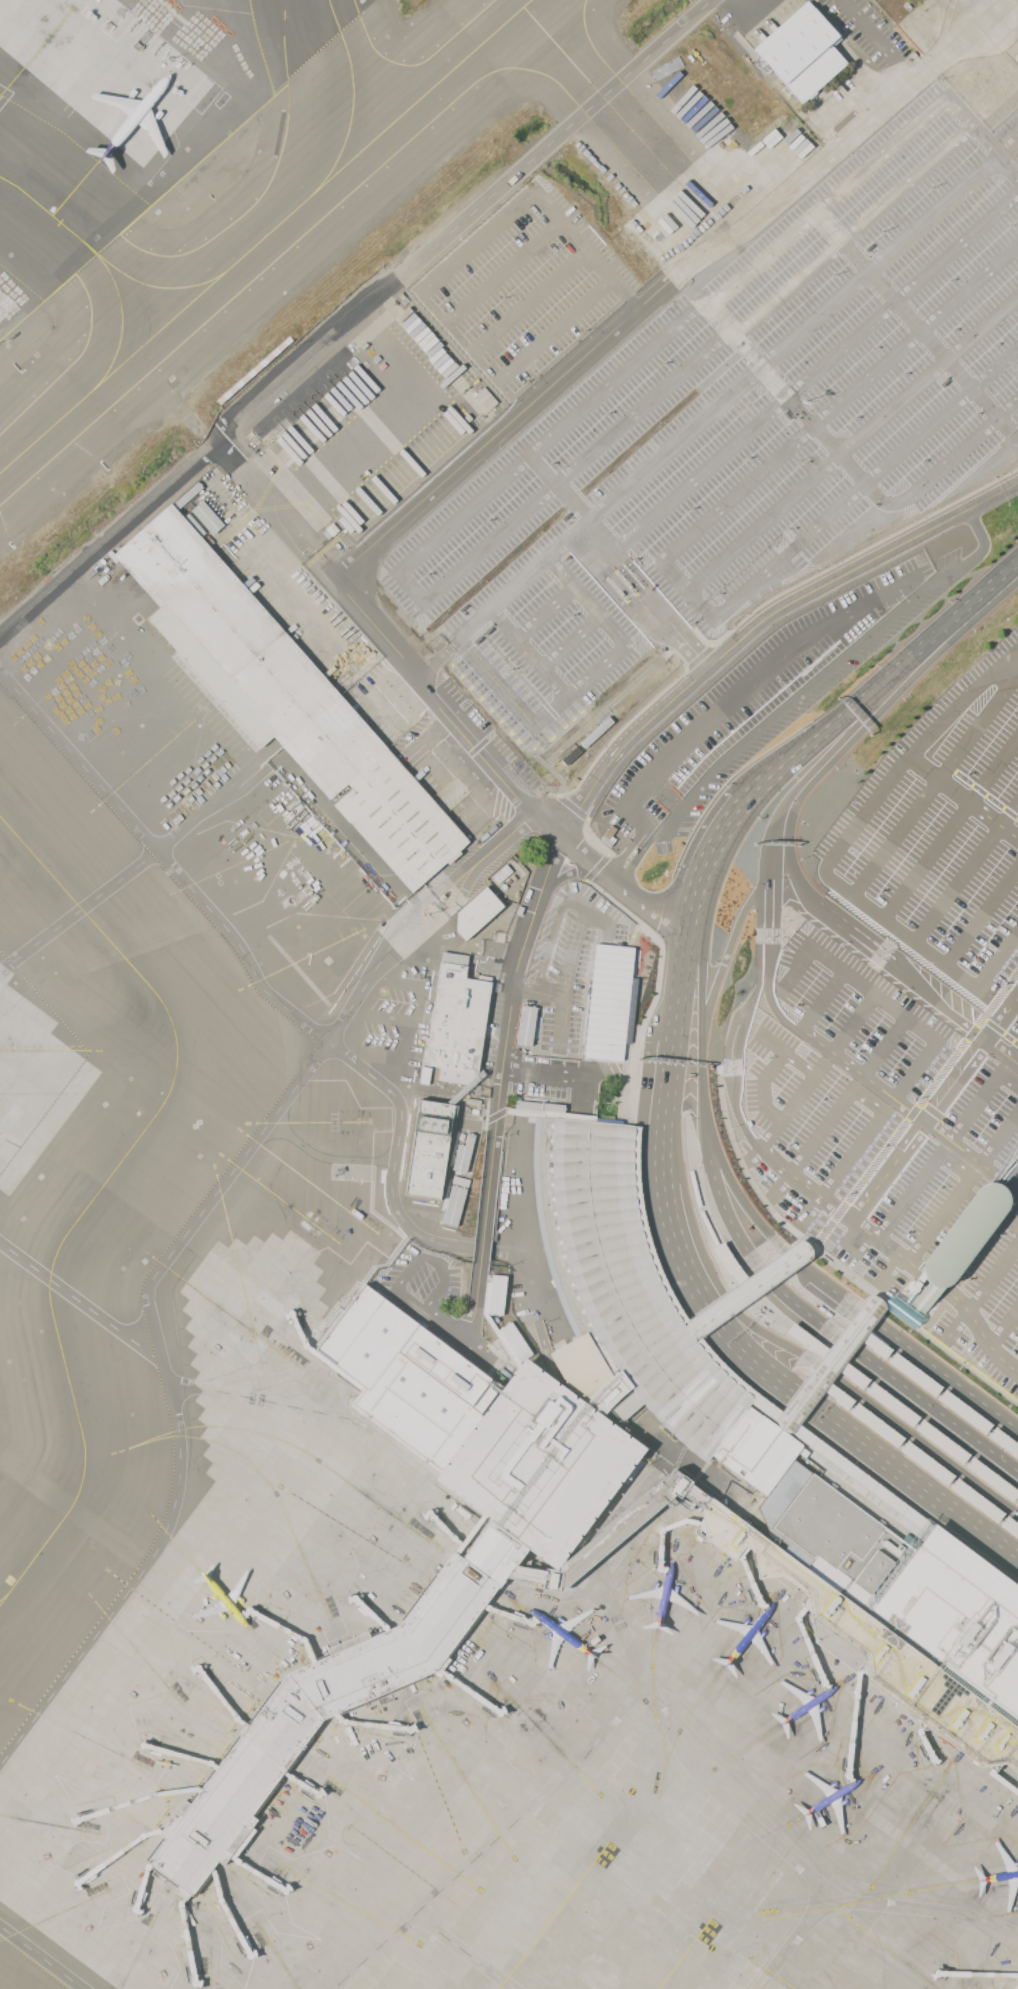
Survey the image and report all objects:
road: (877, 40)
building: (802, 53)
road: (5, 93)
airport taxiway: (601, 93)
airport taxiway: (353, 99)
airport apron: (100, 130)
road: (982, 134)
street lamp: (933, 187)
road: (517, 201)
airport taxiway: (45, 209)
street lamp: (1011, 225)
street lamp: (884, 231)
airport taxiway: (265, 236)
road: (502, 274)
street lamp: (835, 275)
road: (741, 278)
street lamp: (948, 280)
airport taxiway: (152, 285)
road: (527, 299)
road: (767, 308)
street lamp: (665, 310)
road: (347, 311)
airport taxiway: (121, 315)
road: (568, 316)
road: (916, 325)
street lamp: (1016, 330)
road: (610, 332)
street lamp: (993, 345)
street lamp: (872, 348)
street lamp: (663, 363)
street lamp: (902, 375)
road: (805, 381)
road: (737, 386)
building: (485, 398)
road: (794, 402)
road: (839, 402)
street lamp: (749, 404)
street lamp: (606, 414)
street lamp: (973, 414)
street lamp: (793, 419)
street lamp: (665, 422)
parking lot: (740, 423)
road: (907, 446)
road: (838, 456)
road: (952, 458)
street lamp: (747, 460)
street lamp: (802, 462)
street lamp: (919, 462)
street lamp: (549, 464)
street lamp: (608, 472)
road: (559, 487)
street lamp: (871, 505)
street lamp: (691, 509)
road: (278, 510)
building: (206, 517)
street lamp: (486, 520)
road: (974, 521)
street lamp: (788, 528)
street lamp: (542, 531)
street lamp: (771, 542)
street lamp: (426, 574)
toll booth: (632, 579)
street lamp: (486, 581)
road: (412, 586)
toll booth: (623, 587)
road: (814, 589)
road: (626, 590)
road: (652, 590)
street lamp: (714, 593)
toll booth: (615, 595)
road: (646, 595)
road: (618, 599)
road: (733, 601)
road: (969, 604)
road: (546, 612)
street lamp: (570, 616)
road: (974, 620)
road: (571, 641)
road: (530, 651)
road: (436, 654)
street lamp: (508, 669)
road: (580, 685)
building: (283, 695)
road: (797, 698)
parking lot: (764, 700)
road: (730, 701)
street lamp: (594, 702)
road: (961, 703)
road: (856, 704)
road: (831, 751)
road: (483, 760)
road: (544, 763)
road: (825, 768)
road: (593, 780)
road: (767, 780)
road: (936, 783)
airport apron: (210, 788)
road: (983, 792)
road: (963, 797)
road: (572, 807)
road: (866, 814)
road: (950, 826)
road: (504, 837)
road: (592, 839)
parking lot: (945, 846)
toll booth: (638, 854)
road: (163, 859)
road: (142, 860)
road: (704, 865)
road: (597, 867)
road: (567, 872)
road: (967, 873)
road: (765, 879)
road: (623, 887)
road: (772, 907)
building: (476, 913)
road: (982, 915)
road: (407, 917)
road: (603, 919)
road: (901, 929)
road: (425, 932)
road: (854, 932)
road: (632, 933)
road: (551, 935)
road: (908, 951)
road: (998, 961)
road: (724, 962)
road: (798, 969)
road: (567, 977)
road: (701, 986)
road: (657, 987)
road: (679, 987)
airport: (509, 994)
road: (874, 994)
road: (769, 995)
road: (823, 1000)
building: (607, 1001)
road: (939, 1003)
road: (343, 1015)
building: (457, 1016)
road: (560, 1017)
road: (1001, 1018)
road: (735, 1021)
road: (854, 1024)
building: (525, 1025)
road: (505, 1029)
road: (1001, 1030)
road: (885, 1046)
parking lot: (897, 1051)
road: (1001, 1051)
road: (786, 1052)
road: (1015, 1054)
road: (847, 1063)
road: (915, 1069)
road: (559, 1074)
building: (425, 1076)
building: (458, 1077)
road: (954, 1079)
airport apron: (33, 1083)
road: (764, 1086)
road: (981, 1098)
road: (868, 1101)
road: (908, 1109)
road: (913, 1111)
road: (944, 1111)
road: (787, 1113)
road: (703, 1130)
road: (999, 1138)
road: (811, 1144)
building: (429, 1149)
building: (464, 1155)
road: (971, 1155)
road: (723, 1166)
road: (888, 1169)
road: (841, 1170)
road: (963, 1171)
railway: (1008, 1172)
road: (392, 1176)
road: (519, 1176)
railway: (1008, 1176)
road: (1014, 1181)
airport taxiway: (132, 1190)
road: (967, 1193)
parking lot: (881, 1194)
building: (455, 1201)
road: (986, 1206)
road: (701, 1209)
road: (840, 1209)
road: (1009, 1222)
railway: (973, 1224)
building: (962, 1236)
railway: (968, 1239)
road: (481, 1247)
road: (435, 1260)
road: (831, 1260)
railway: (942, 1266)
road: (732, 1268)
road: (923, 1275)
road: (932, 1277)
road: (364, 1278)
road: (657, 1284)
building: (749, 1285)
road: (538, 1287)
traffic signals: (722, 1291)
road: (746, 1291)
building: (496, 1293)
road: (981, 1295)
road: (409, 1300)
road: (907, 1300)
road: (80, 1301)
traffic signals: (705, 1301)
road: (815, 1301)
road: (473, 1302)
building: (911, 1303)
road: (767, 1311)
road: (970, 1314)
road: (910, 1316)
road: (869, 1317)
road: (1004, 1328)
road: (458, 1335)
road: (838, 1336)
building: (514, 1341)
road: (747, 1354)
road: (805, 1356)
road: (1002, 1360)
road: (831, 1363)
building: (915, 1374)
road: (937, 1391)
traffic signals: (794, 1392)
road: (170, 1397)
road: (257, 1398)
road: (977, 1399)
building: (892, 1403)
building: (965, 1411)
road: (904, 1413)
building: (788, 1416)
building: (877, 1425)
building: (942, 1441)
building: (1004, 1441)
road: (393, 1446)
airport terminal: (503, 1447)
building: (504, 1448)
road: (918, 1457)
building: (927, 1462)
building: (992, 1478)
road: (644, 1485)
road: (889, 1499)
building: (977, 1500)
building: (1017, 1503)
building: (1010, 1526)
airport terminal: (613, 1532)
building: (613, 1532)
road: (609, 1536)
airport taxiway: (4, 1596)
airport terminal: (900, 1614)
building: (900, 1614)
airport apron: (483, 1742)
road: (715, 1791)
road: (494, 1838)
road: (921, 1908)
airport taxiway: (553, 1915)
road: (463, 1951)
airport taxiway: (684, 1953)
road: (41, 1957)

